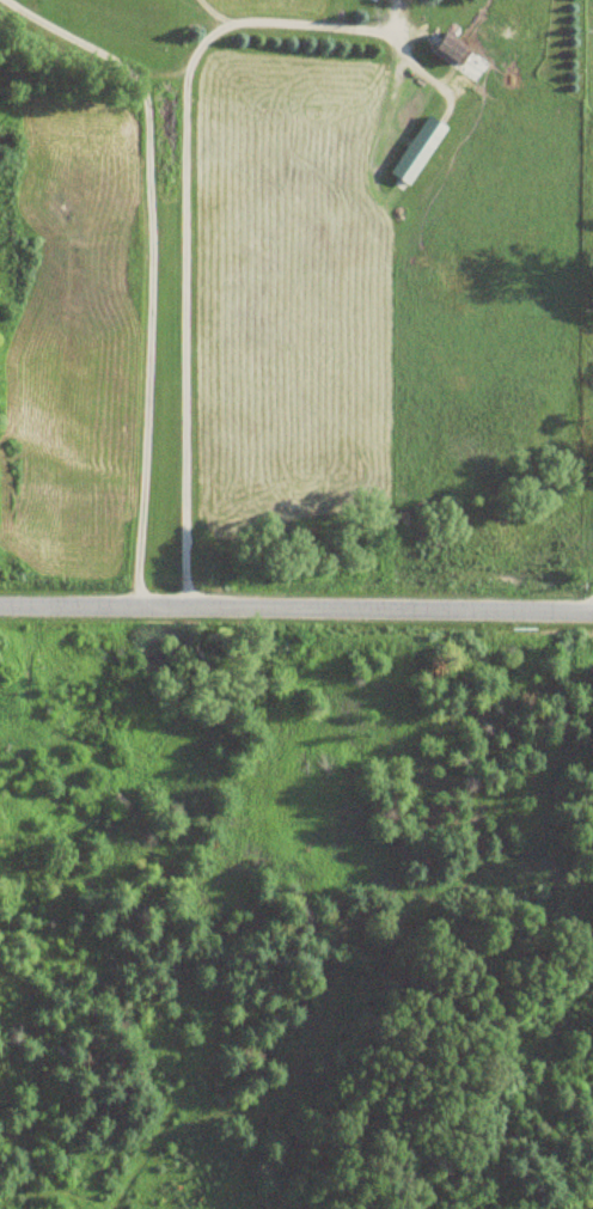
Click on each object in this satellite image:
building: (457, 62)
building: (415, 151)
road: (149, 263)
road: (295, 604)

